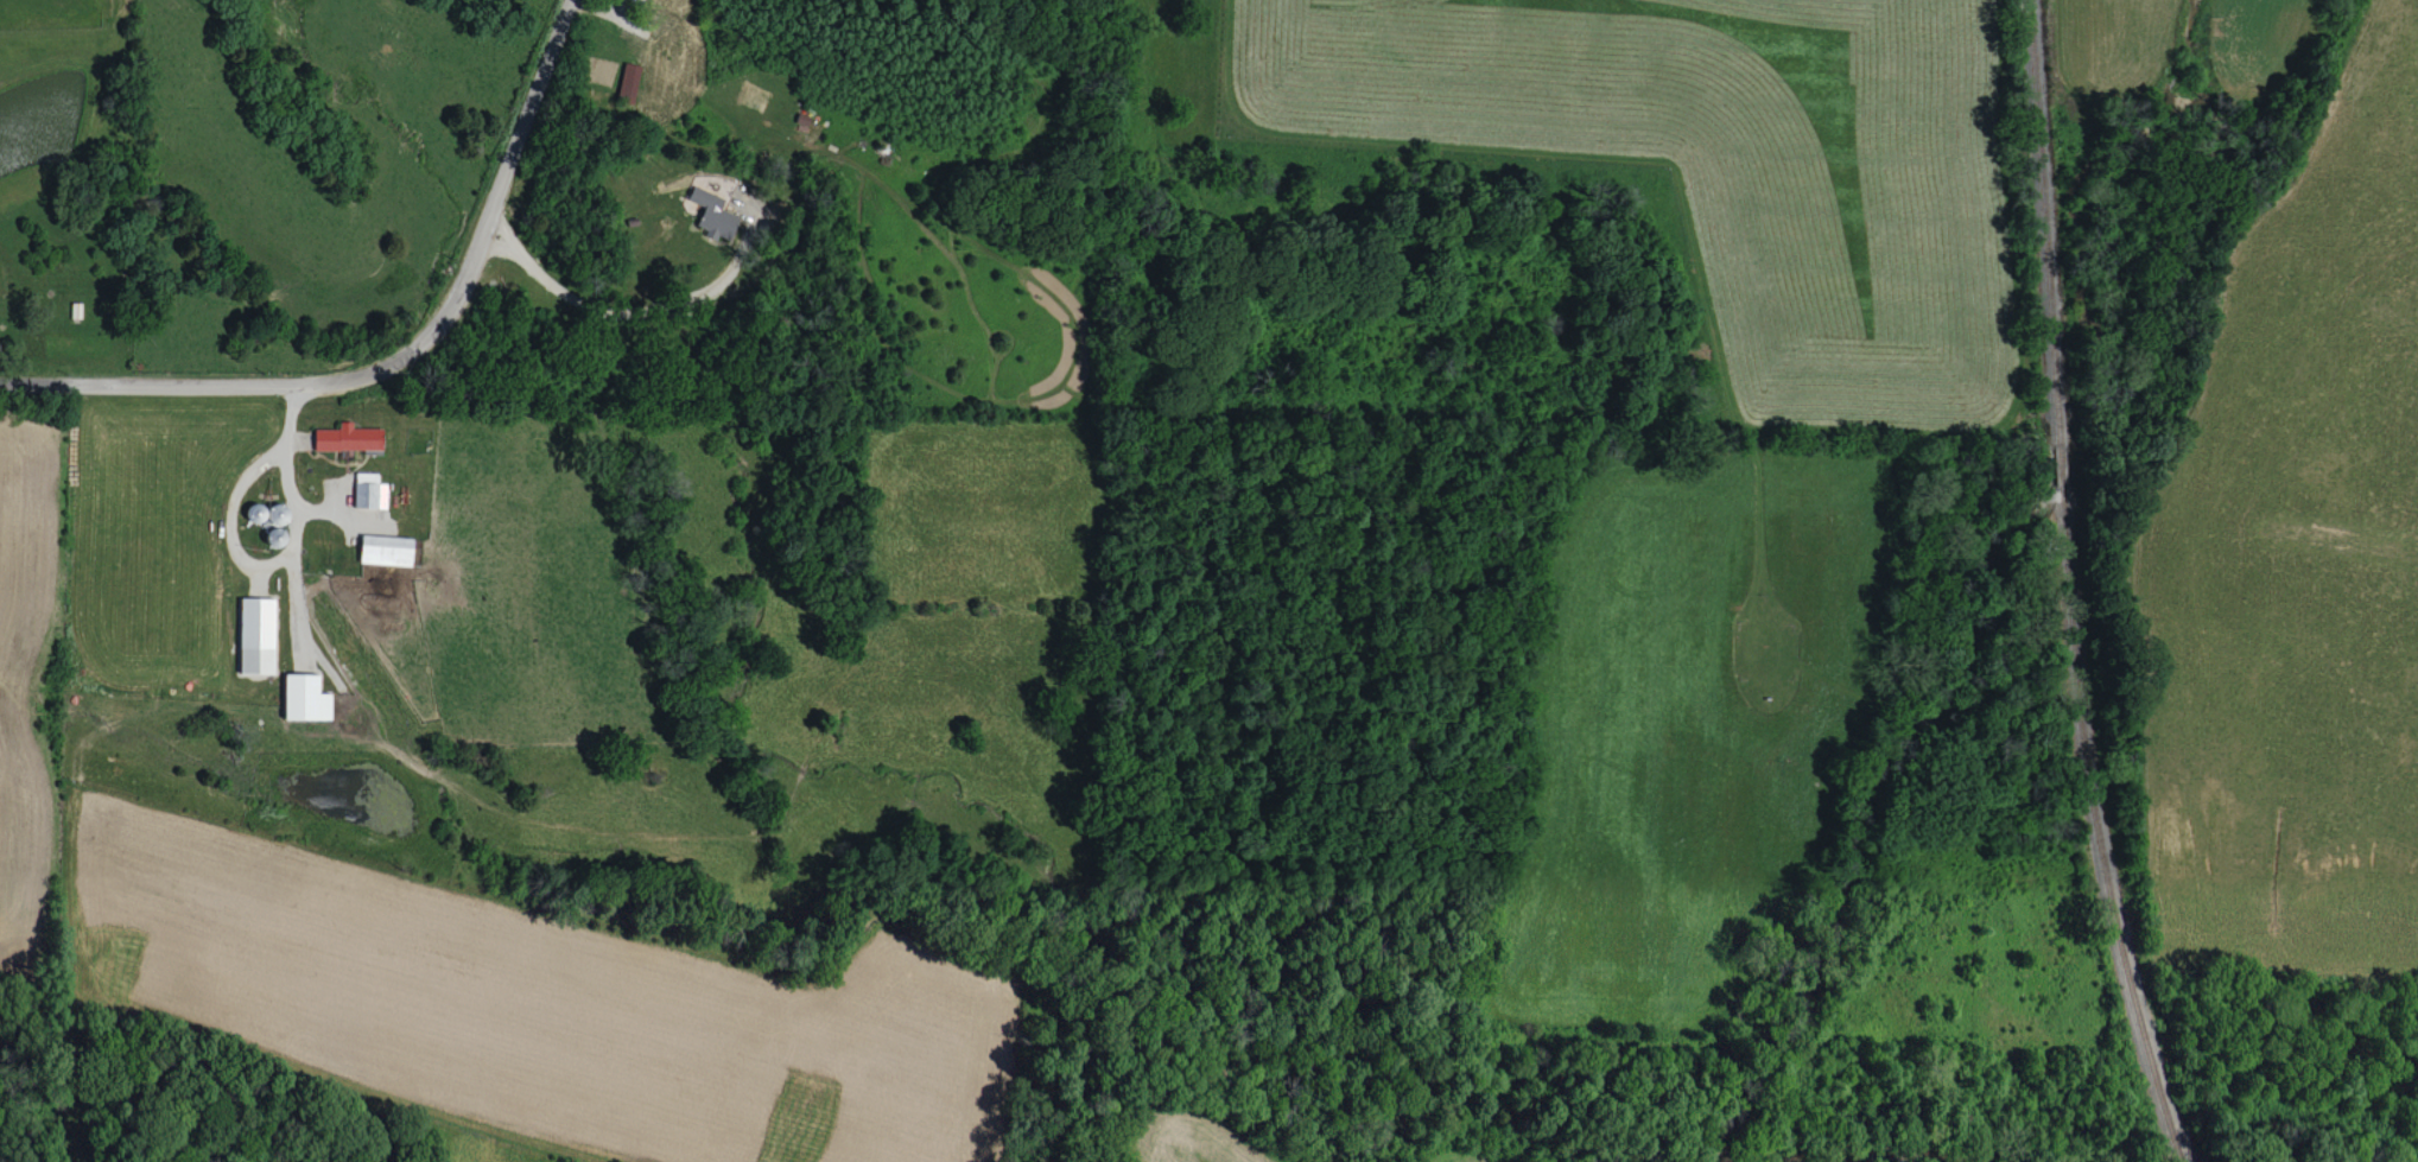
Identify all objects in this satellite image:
building: (629, 83)
road: (496, 190)
building: (713, 214)
road: (635, 315)
road: (199, 383)
building: (348, 437)
building: (369, 490)
road: (229, 520)
road: (293, 522)
building: (387, 548)
railway: (2060, 584)
building: (259, 634)
building: (306, 697)

